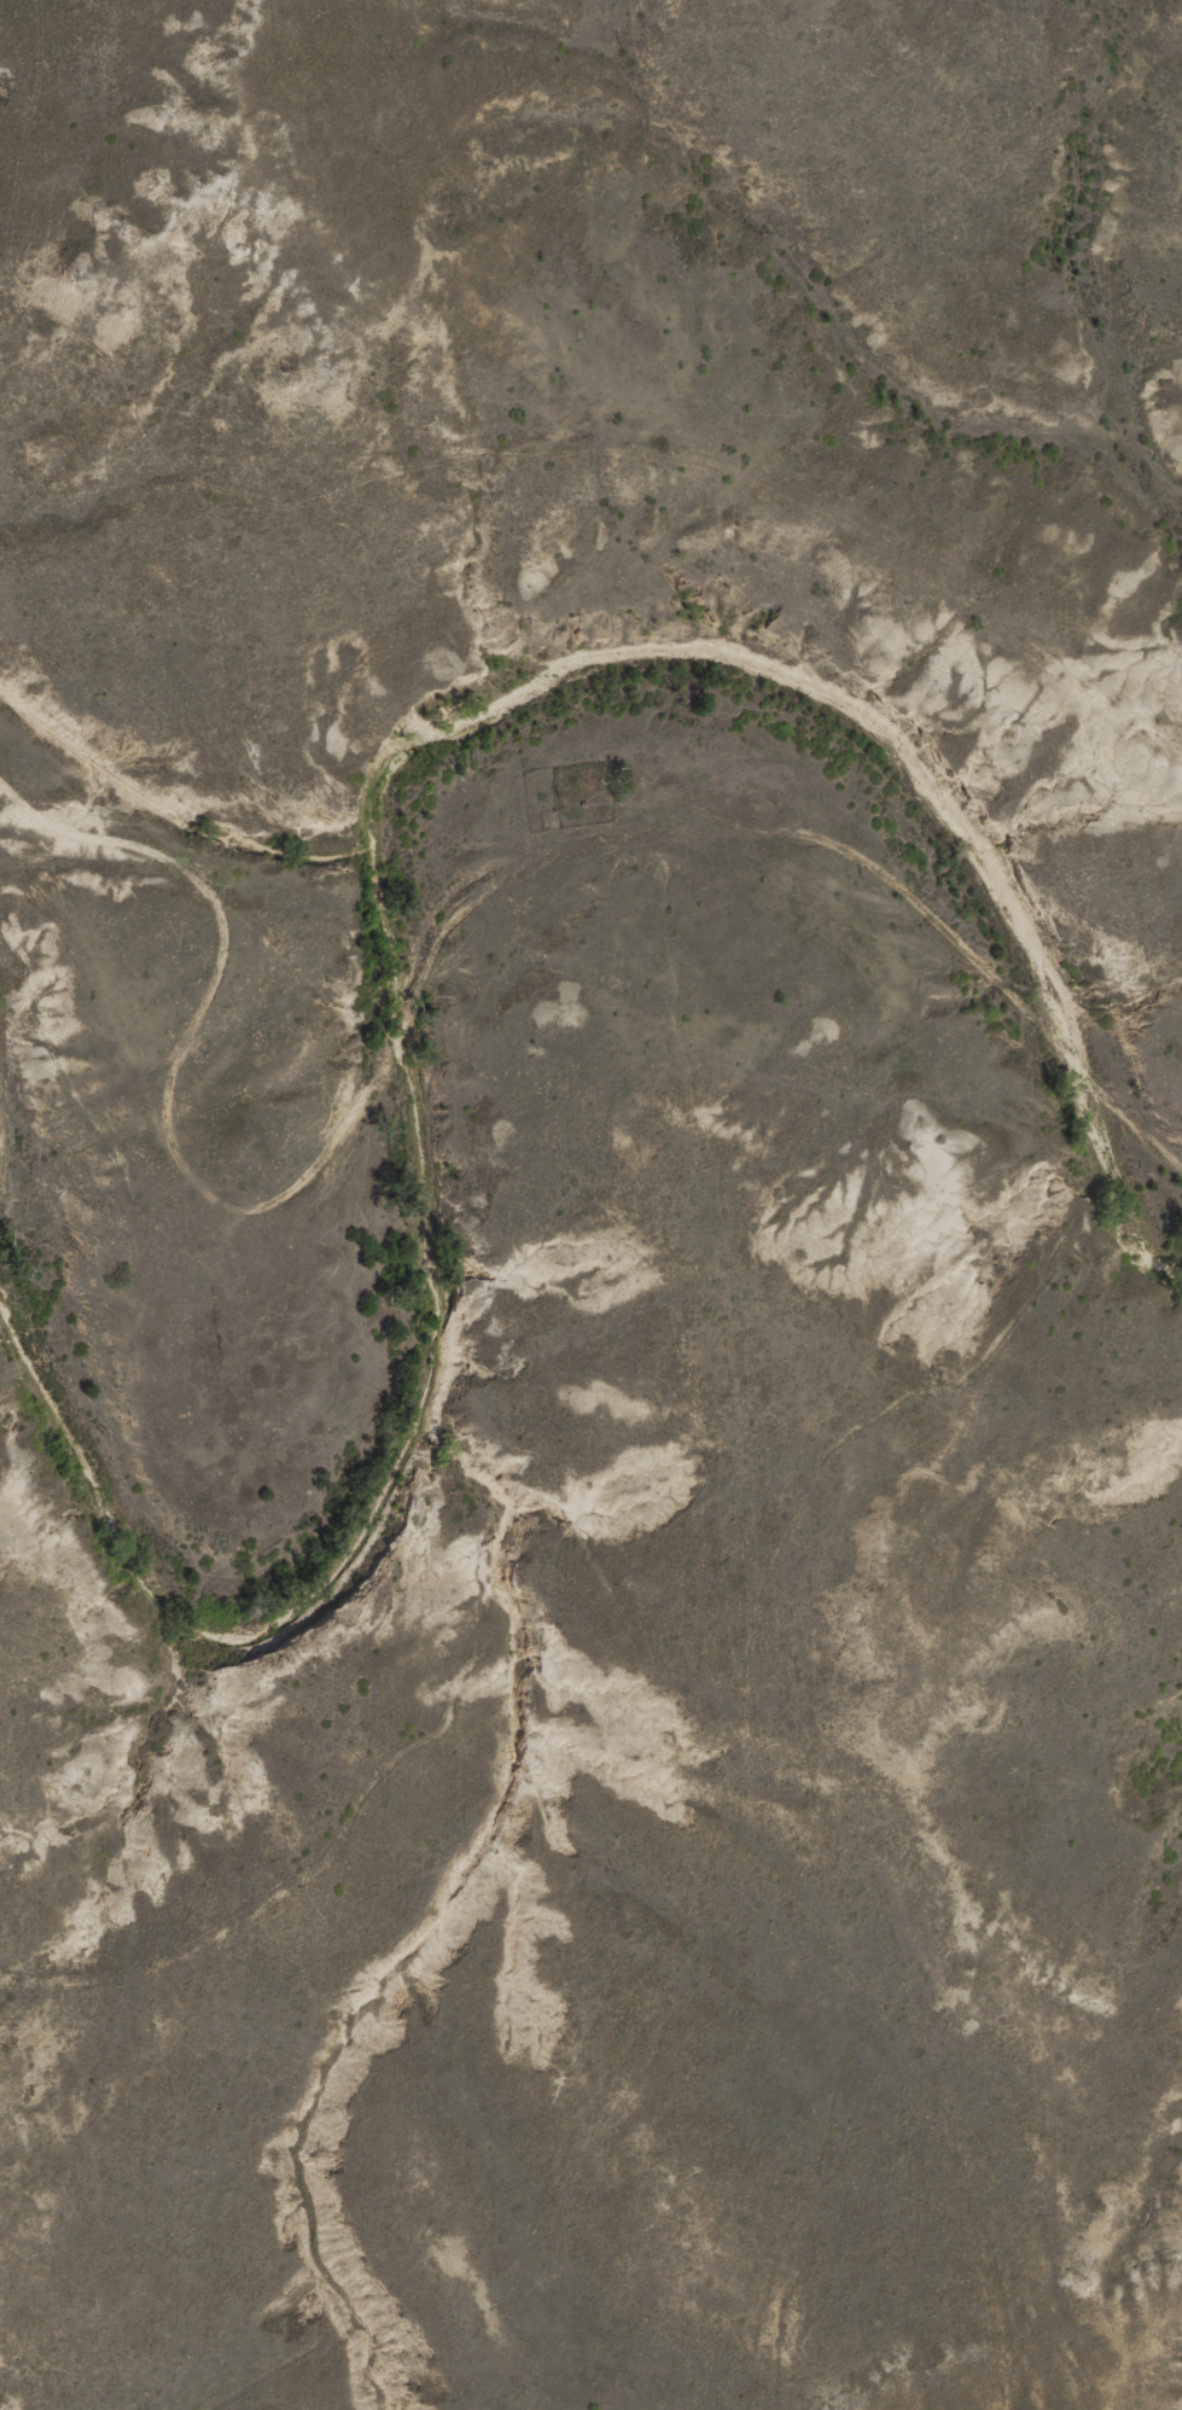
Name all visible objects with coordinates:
road: (409, 906)
river: (403, 935)

